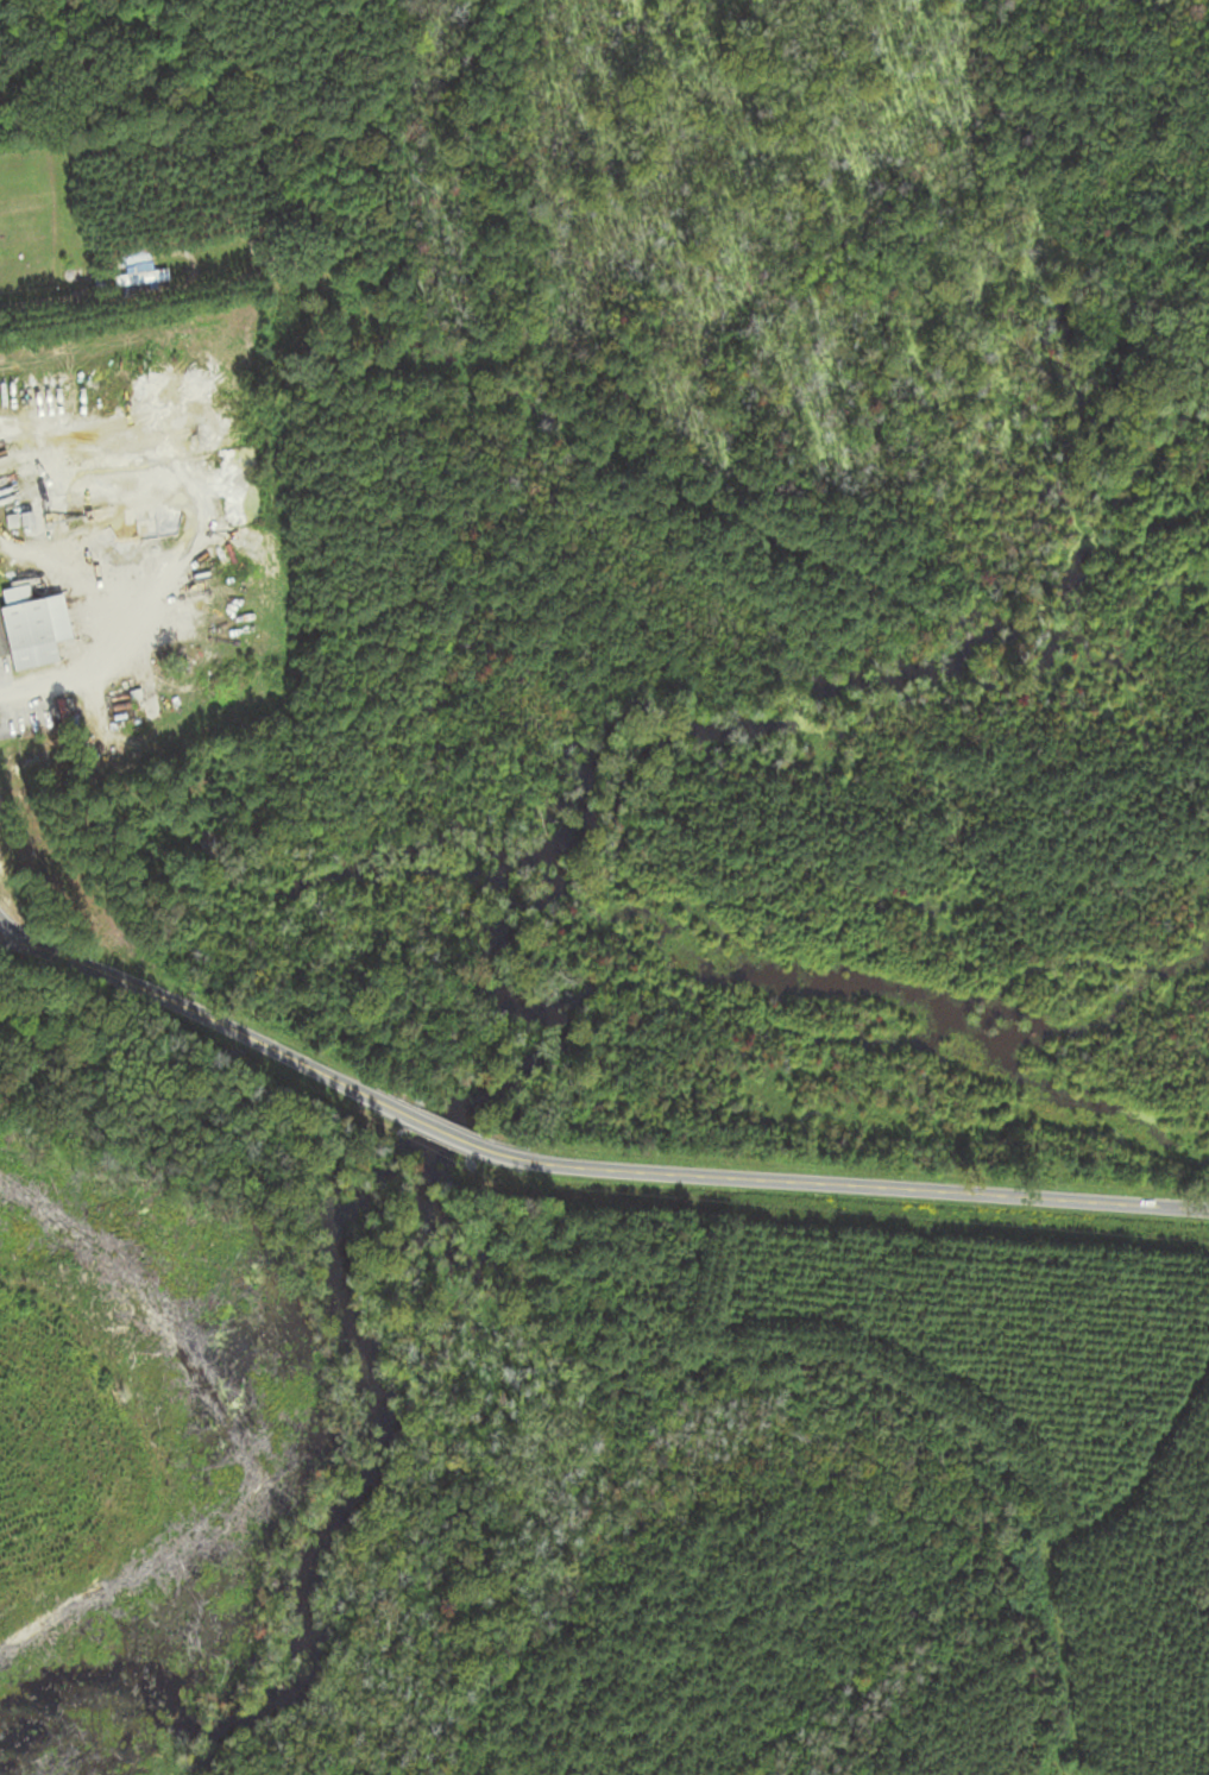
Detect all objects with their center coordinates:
building: (27, 204)
road: (37, 307)
building: (25, 627)
road: (38, 690)
building: (67, 715)
building: (207, 844)
road: (580, 1167)

